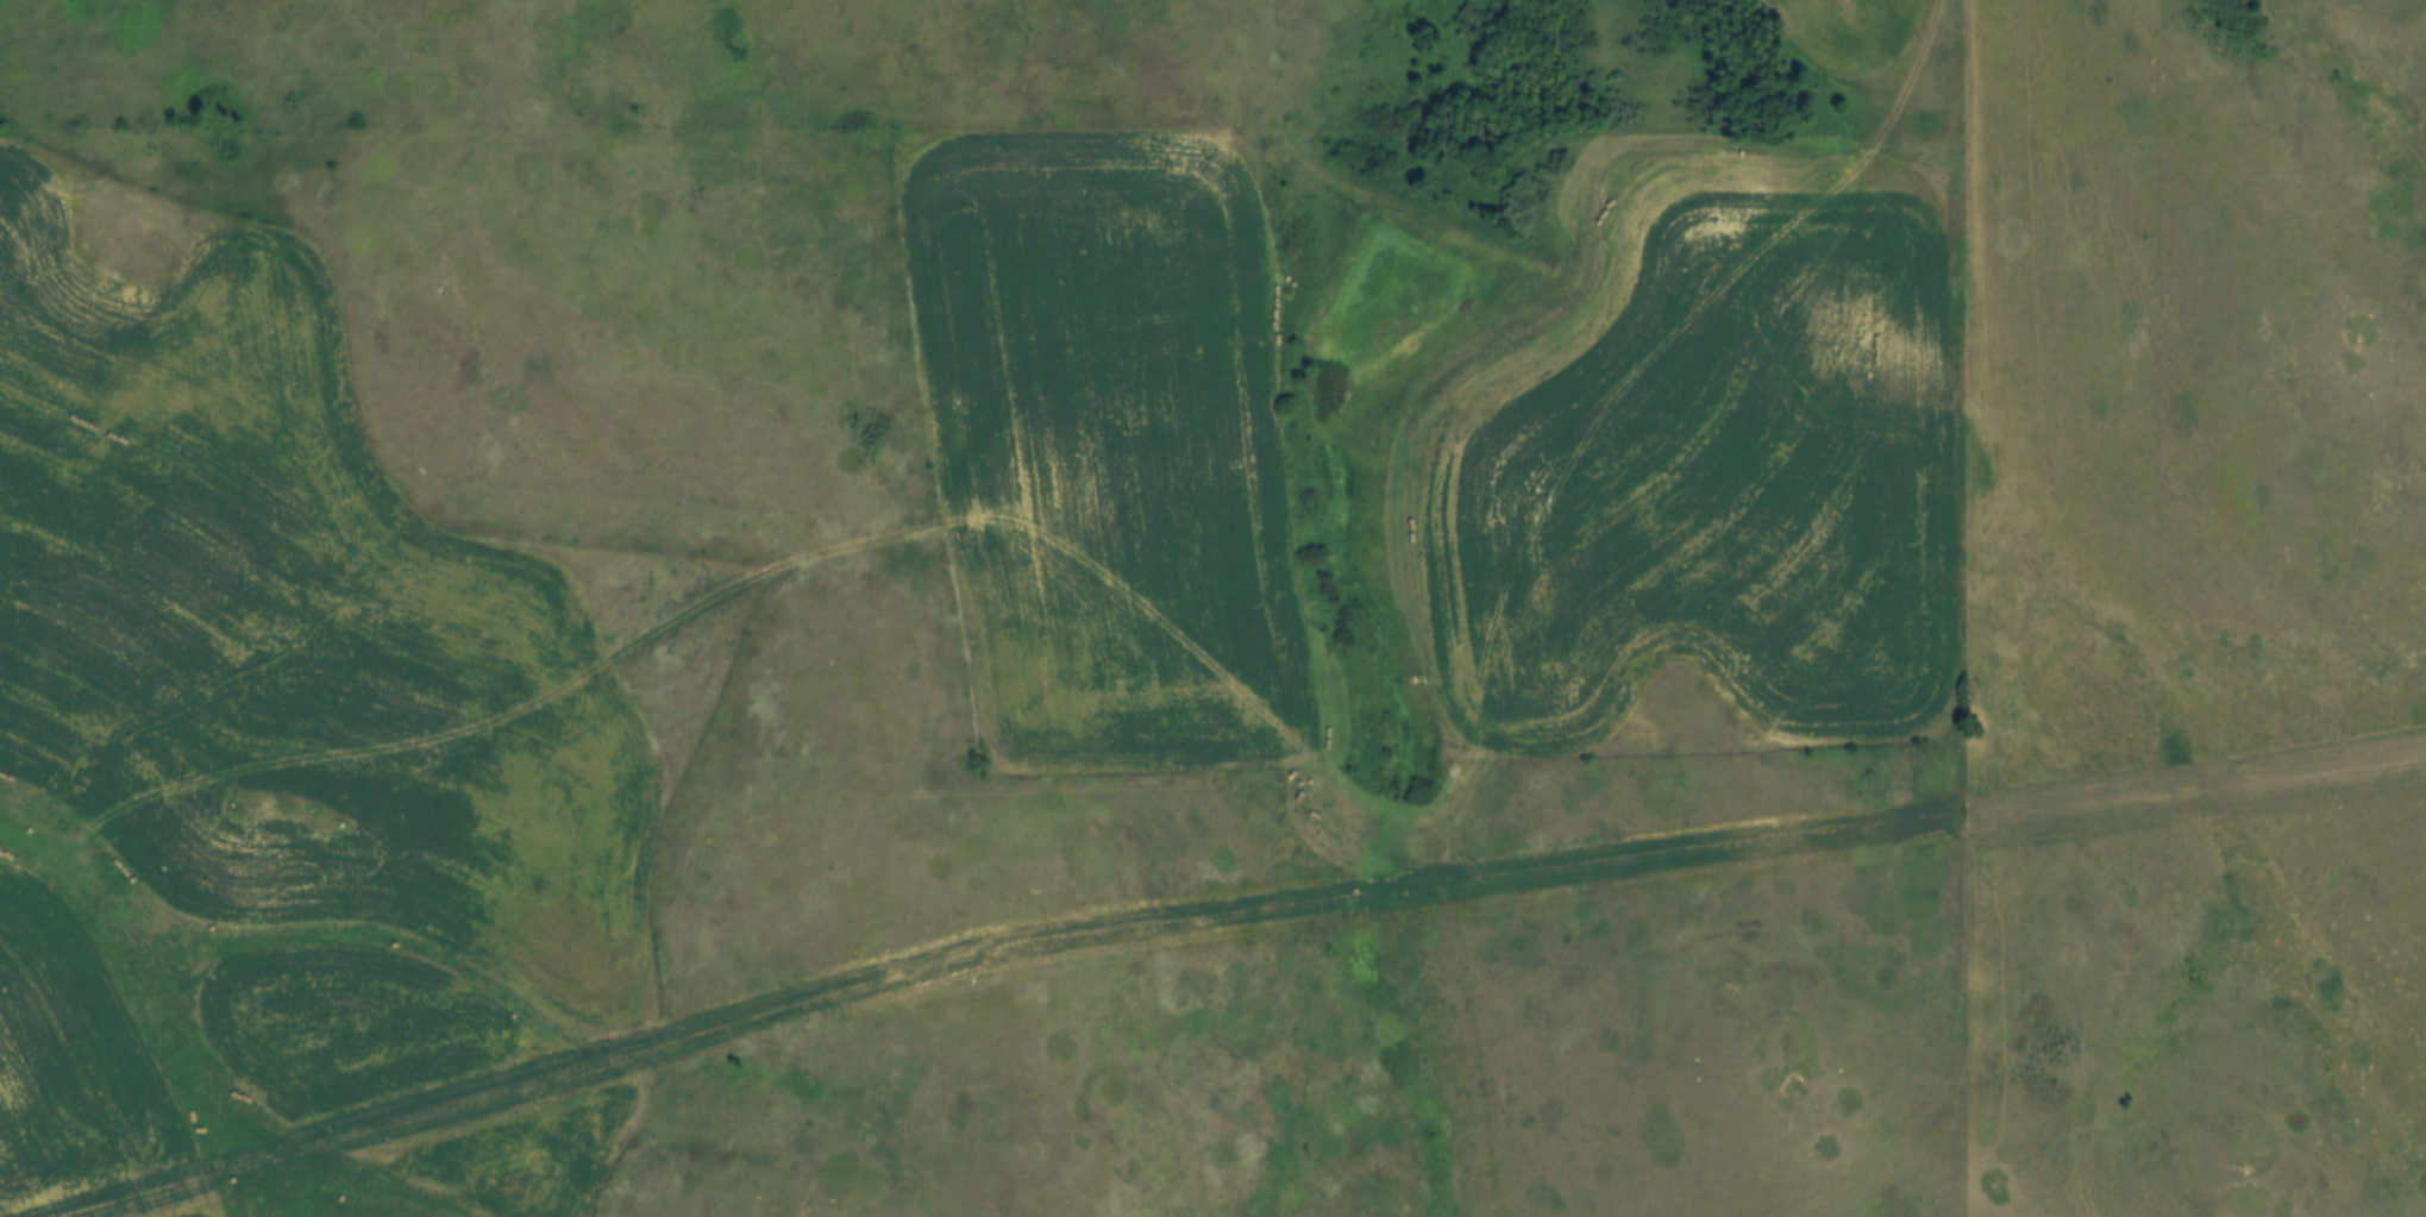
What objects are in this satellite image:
road: (1609, 231)

